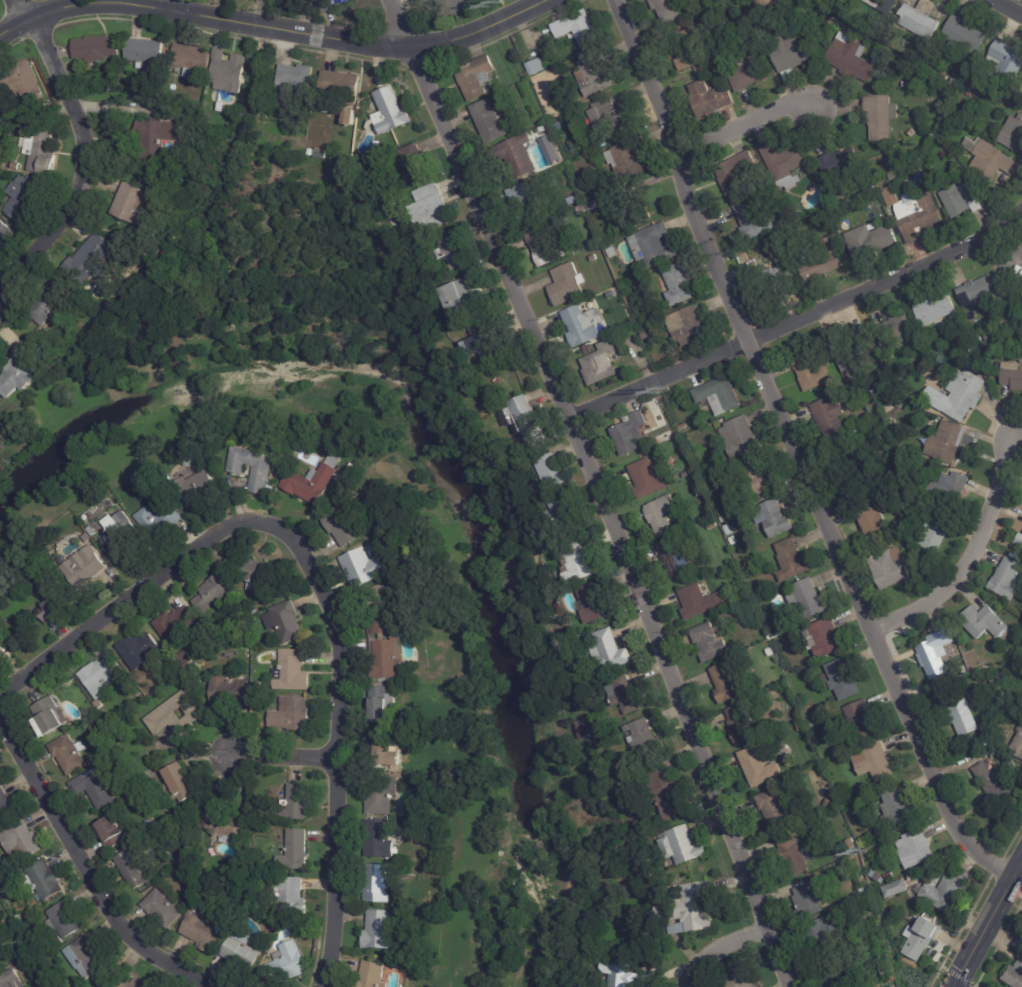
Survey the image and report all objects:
park: (1019, 1)
building: (762, 3)
building: (888, 3)
building: (852, 4)
building: (308, 5)
building: (330, 5)
power tower: (496, 5)
road: (1009, 6)
road: (21, 7)
building: (452, 7)
road: (176, 8)
building: (668, 10)
building: (922, 18)
building: (831, 21)
building: (578, 27)
road: (268, 30)
building: (966, 33)
building: (97, 48)
building: (789, 50)
building: (146, 53)
building: (690, 53)
building: (852, 57)
building: (1009, 59)
building: (192, 61)
building: (536, 66)
building: (228, 71)
building: (749, 72)
building: (595, 74)
building: (475, 77)
building: (295, 78)
building: (20, 80)
building: (337, 91)
building: (969, 93)
building: (976, 93)
building: (710, 99)
building: (198, 100)
building: (969, 102)
building: (976, 102)
building: (390, 111)
building: (0, 114)
building: (606, 116)
building: (882, 116)
building: (350, 117)
building: (490, 121)
building: (29, 125)
road: (742, 129)
building: (1013, 135)
building: (155, 138)
building: (389, 142)
building: (550, 149)
building: (40, 151)
building: (311, 152)
building: (520, 155)
building: (627, 157)
building: (991, 159)
road: (81, 162)
building: (785, 163)
building: (842, 164)
building: (412, 166)
building: (736, 174)
building: (963, 176)
building: (908, 185)
building: (22, 195)
building: (960, 198)
building: (573, 200)
building: (524, 203)
building: (134, 205)
building: (592, 205)
building: (433, 206)
building: (581, 209)
building: (915, 214)
building: (616, 218)
building: (821, 218)
building: (754, 219)
building: (825, 225)
building: (3, 231)
building: (420, 235)
building: (872, 243)
building: (542, 245)
building: (654, 245)
building: (152, 246)
building: (454, 249)
building: (612, 251)
building: (594, 257)
building: (92, 259)
building: (147, 260)
building: (825, 260)
building: (781, 277)
building: (567, 284)
building: (678, 285)
building: (979, 292)
building: (463, 299)
building: (46, 307)
building: (936, 309)
road: (799, 323)
building: (583, 324)
building: (688, 327)
building: (901, 328)
building: (646, 334)
building: (979, 335)
building: (992, 335)
building: (487, 339)
building: (954, 354)
building: (852, 357)
building: (602, 362)
building: (972, 362)
building: (813, 368)
building: (912, 369)
building: (21, 373)
building: (1013, 375)
building: (882, 383)
power tower: (662, 392)
building: (965, 394)
building: (720, 395)
building: (899, 405)
building: (752, 408)
building: (830, 418)
building: (527, 421)
building: (684, 426)
building: (717, 426)
building: (673, 430)
building: (631, 432)
building: (740, 439)
building: (947, 442)
road: (796, 454)
building: (192, 455)
building: (263, 469)
building: (859, 470)
building: (552, 471)
building: (686, 474)
building: (762, 474)
building: (648, 478)
building: (314, 480)
building: (697, 484)
building: (195, 489)
building: (951, 490)
road: (595, 491)
building: (562, 511)
building: (662, 515)
building: (727, 518)
building: (775, 519)
building: (876, 520)
building: (164, 523)
building: (713, 525)
building: (342, 526)
building: (938, 532)
building: (119, 536)
building: (734, 541)
building: (1020, 541)
road: (966, 557)
building: (677, 558)
building: (792, 560)
building: (578, 563)
building: (364, 567)
building: (84, 568)
building: (891, 568)
building: (257, 575)
building: (1008, 579)
building: (383, 580)
building: (746, 595)
building: (211, 596)
building: (807, 600)
road: (126, 602)
building: (696, 602)
building: (594, 604)
building: (56, 607)
building: (287, 622)
building: (985, 622)
building: (174, 623)
building: (827, 639)
building: (247, 643)
building: (711, 643)
building: (385, 645)
building: (138, 650)
building: (610, 652)
building: (770, 652)
building: (2, 653)
building: (936, 654)
building: (184, 659)
building: (984, 667)
building: (292, 672)
building: (100, 676)
building: (843, 681)
building: (997, 681)
building: (730, 684)
building: (258, 685)
building: (230, 692)
building: (626, 696)
building: (976, 703)
building: (381, 706)
building: (173, 715)
building: (291, 715)
building: (963, 716)
building: (50, 718)
building: (863, 720)
building: (743, 725)
building: (814, 725)
building: (580, 726)
building: (593, 729)
building: (396, 734)
building: (642, 737)
road: (338, 741)
building: (1018, 746)
building: (993, 752)
building: (387, 753)
building: (68, 755)
road: (284, 759)
building: (877, 763)
building: (759, 767)
building: (179, 785)
building: (875, 788)
building: (995, 788)
building: (95, 789)
building: (667, 791)
building: (382, 796)
building: (131, 797)
building: (829, 804)
building: (6, 805)
building: (294, 805)
building: (775, 809)
building: (849, 809)
building: (900, 809)
building: (222, 821)
building: (113, 832)
building: (380, 840)
building: (21, 843)
building: (681, 846)
building: (916, 850)
building: (295, 852)
power tower: (853, 852)
building: (793, 855)
road: (88, 871)
building: (132, 871)
building: (878, 877)
building: (890, 877)
building: (45, 881)
building: (378, 884)
building: (898, 889)
building: (866, 891)
building: (947, 892)
building: (290, 897)
building: (809, 899)
building: (870, 902)
building: (162, 909)
building: (693, 910)
building: (17, 918)
building: (64, 922)
building: (19, 925)
road: (990, 927)
building: (204, 930)
building: (380, 931)
building: (822, 937)
building: (922, 939)
building: (57, 941)
road: (720, 949)
building: (241, 955)
building: (86, 959)
building: (280, 962)
building: (42, 964)
building: (0, 968)
building: (884, 973)
building: (1013, 973)
building: (367, 974)
building: (832, 974)
building: (617, 975)
building: (10, 980)
building: (739, 980)
building: (123, 982)
building: (55, 985)

